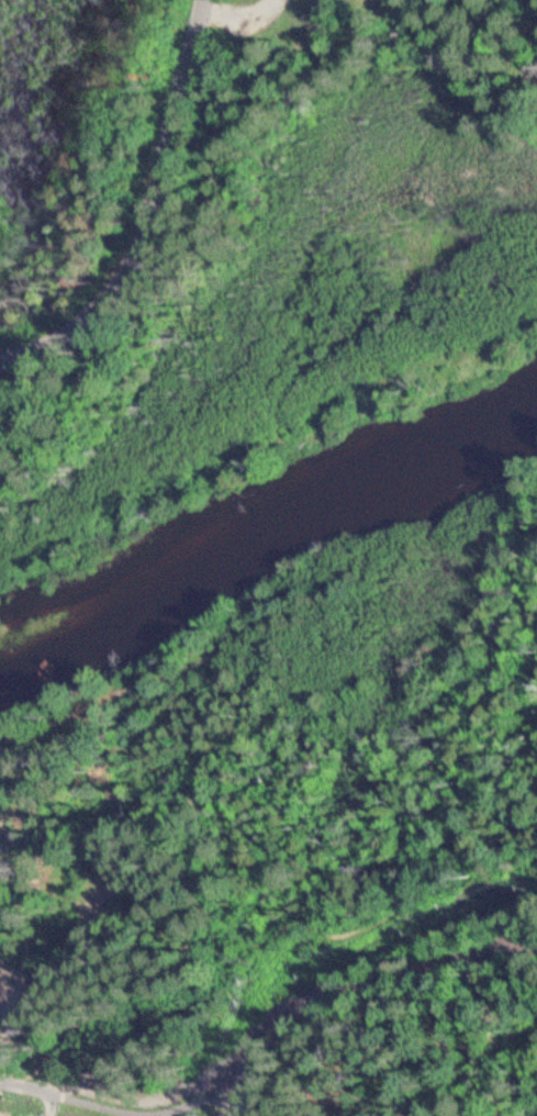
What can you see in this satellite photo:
road: (155, 214)
river: (261, 518)
road: (518, 569)
road: (526, 614)
road: (523, 659)
road: (490, 735)
road: (493, 825)
road: (416, 875)
road: (228, 893)
road: (244, 948)
road: (355, 986)
road: (63, 1044)
road: (2, 1092)
road: (13, 1094)
road: (46, 1100)
parking lot: (161, 1100)
road: (141, 1107)
road: (100, 1109)

